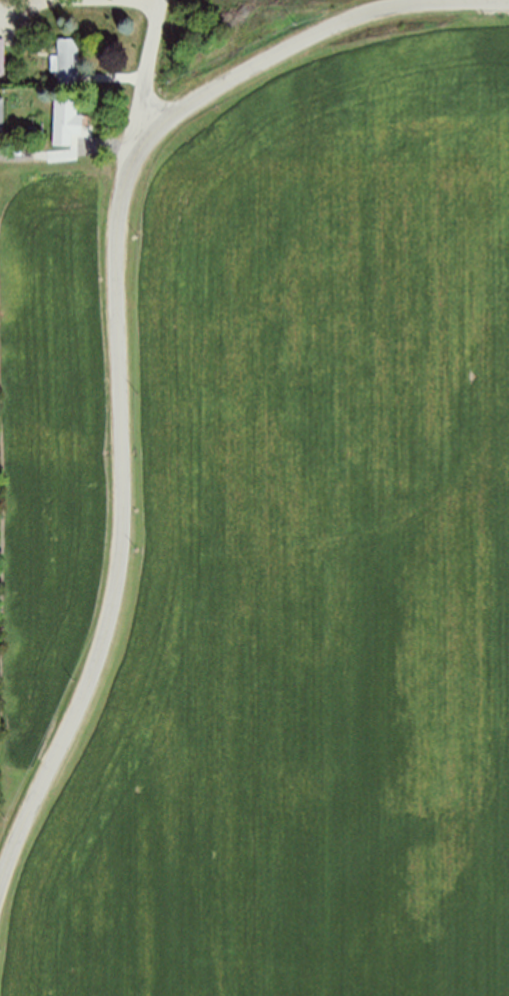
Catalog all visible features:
road: (88, 2)
building: (2, 56)
building: (68, 60)
road: (147, 72)
road: (117, 73)
building: (2, 117)
building: (66, 117)
road: (69, 151)
road: (118, 322)

